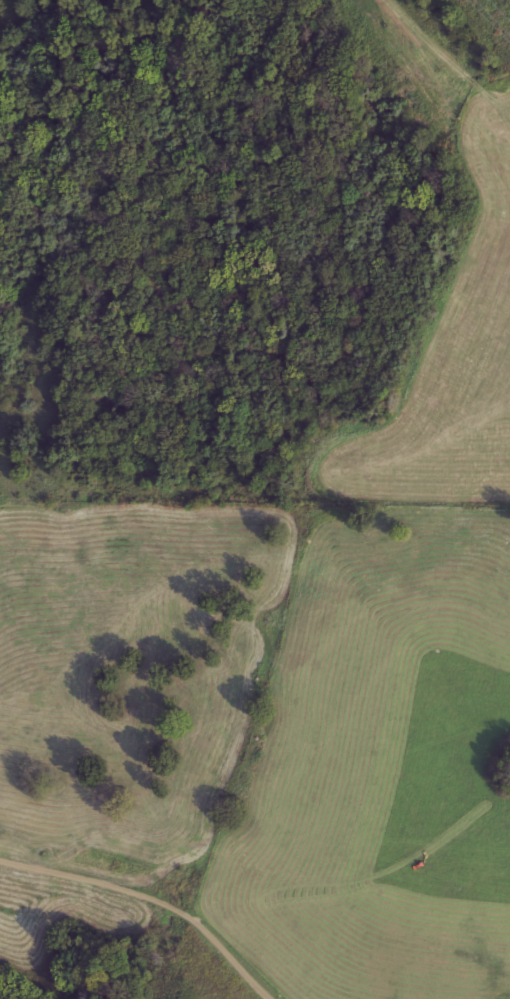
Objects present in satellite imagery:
road: (152, 898)

